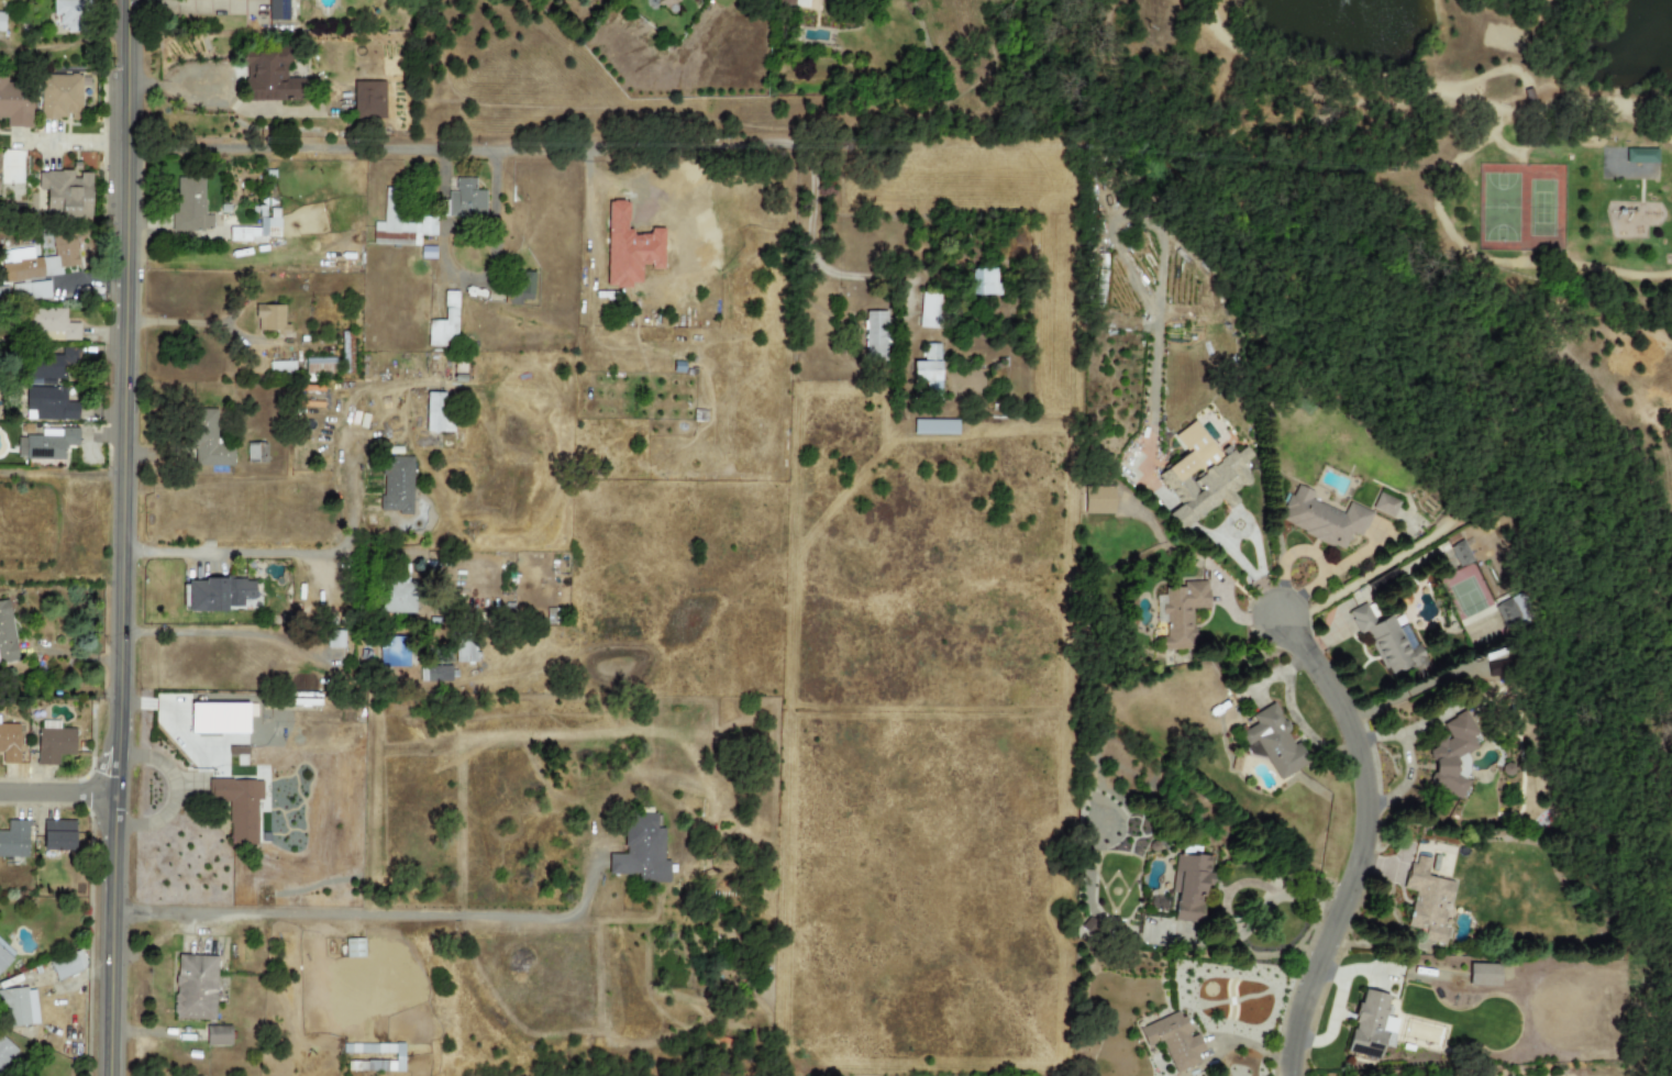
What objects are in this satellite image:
building: (786, 2)
road: (185, 4)
building: (277, 10)
building: (70, 14)
building: (1, 21)
building: (268, 77)
road: (1447, 84)
building: (58, 97)
road: (223, 99)
building: (368, 100)
building: (14, 104)
road: (73, 138)
road: (607, 147)
building: (1640, 156)
building: (0, 164)
building: (65, 192)
building: (463, 201)
building: (189, 206)
building: (394, 223)
building: (427, 225)
building: (256, 229)
building: (628, 247)
building: (40, 259)
building: (983, 281)
road: (474, 282)
building: (520, 287)
building: (30, 291)
building: (929, 311)
building: (269, 320)
building: (444, 323)
building: (52, 324)
building: (875, 335)
building: (54, 366)
building: (321, 366)
building: (927, 369)
building: (51, 403)
building: (436, 412)
building: (934, 426)
building: (207, 439)
building: (46, 444)
building: (255, 452)
building: (1200, 476)
building: (396, 484)
building: (1098, 500)
building: (1384, 504)
building: (1322, 519)
road: (119, 537)
road: (255, 552)
building: (1460, 553)
building: (215, 594)
building: (396, 597)
building: (1180, 612)
road: (223, 632)
building: (7, 634)
building: (334, 640)
building: (1387, 642)
building: (394, 651)
building: (465, 653)
building: (434, 673)
building: (218, 718)
building: (53, 742)
building: (1272, 742)
building: (9, 743)
building: (1451, 754)
road: (174, 792)
road: (57, 797)
building: (239, 806)
building: (57, 835)
building: (14, 840)
road: (1355, 843)
building: (641, 851)
building: (1191, 886)
building: (1428, 901)
road: (372, 913)
road: (1244, 923)
building: (354, 947)
building: (4, 955)
building: (66, 964)
building: (1483, 975)
building: (193, 987)
building: (18, 1007)
building: (1371, 1025)
building: (217, 1035)
building: (1173, 1041)
building: (7, 1054)
building: (398, 1057)
road: (774, 1064)

